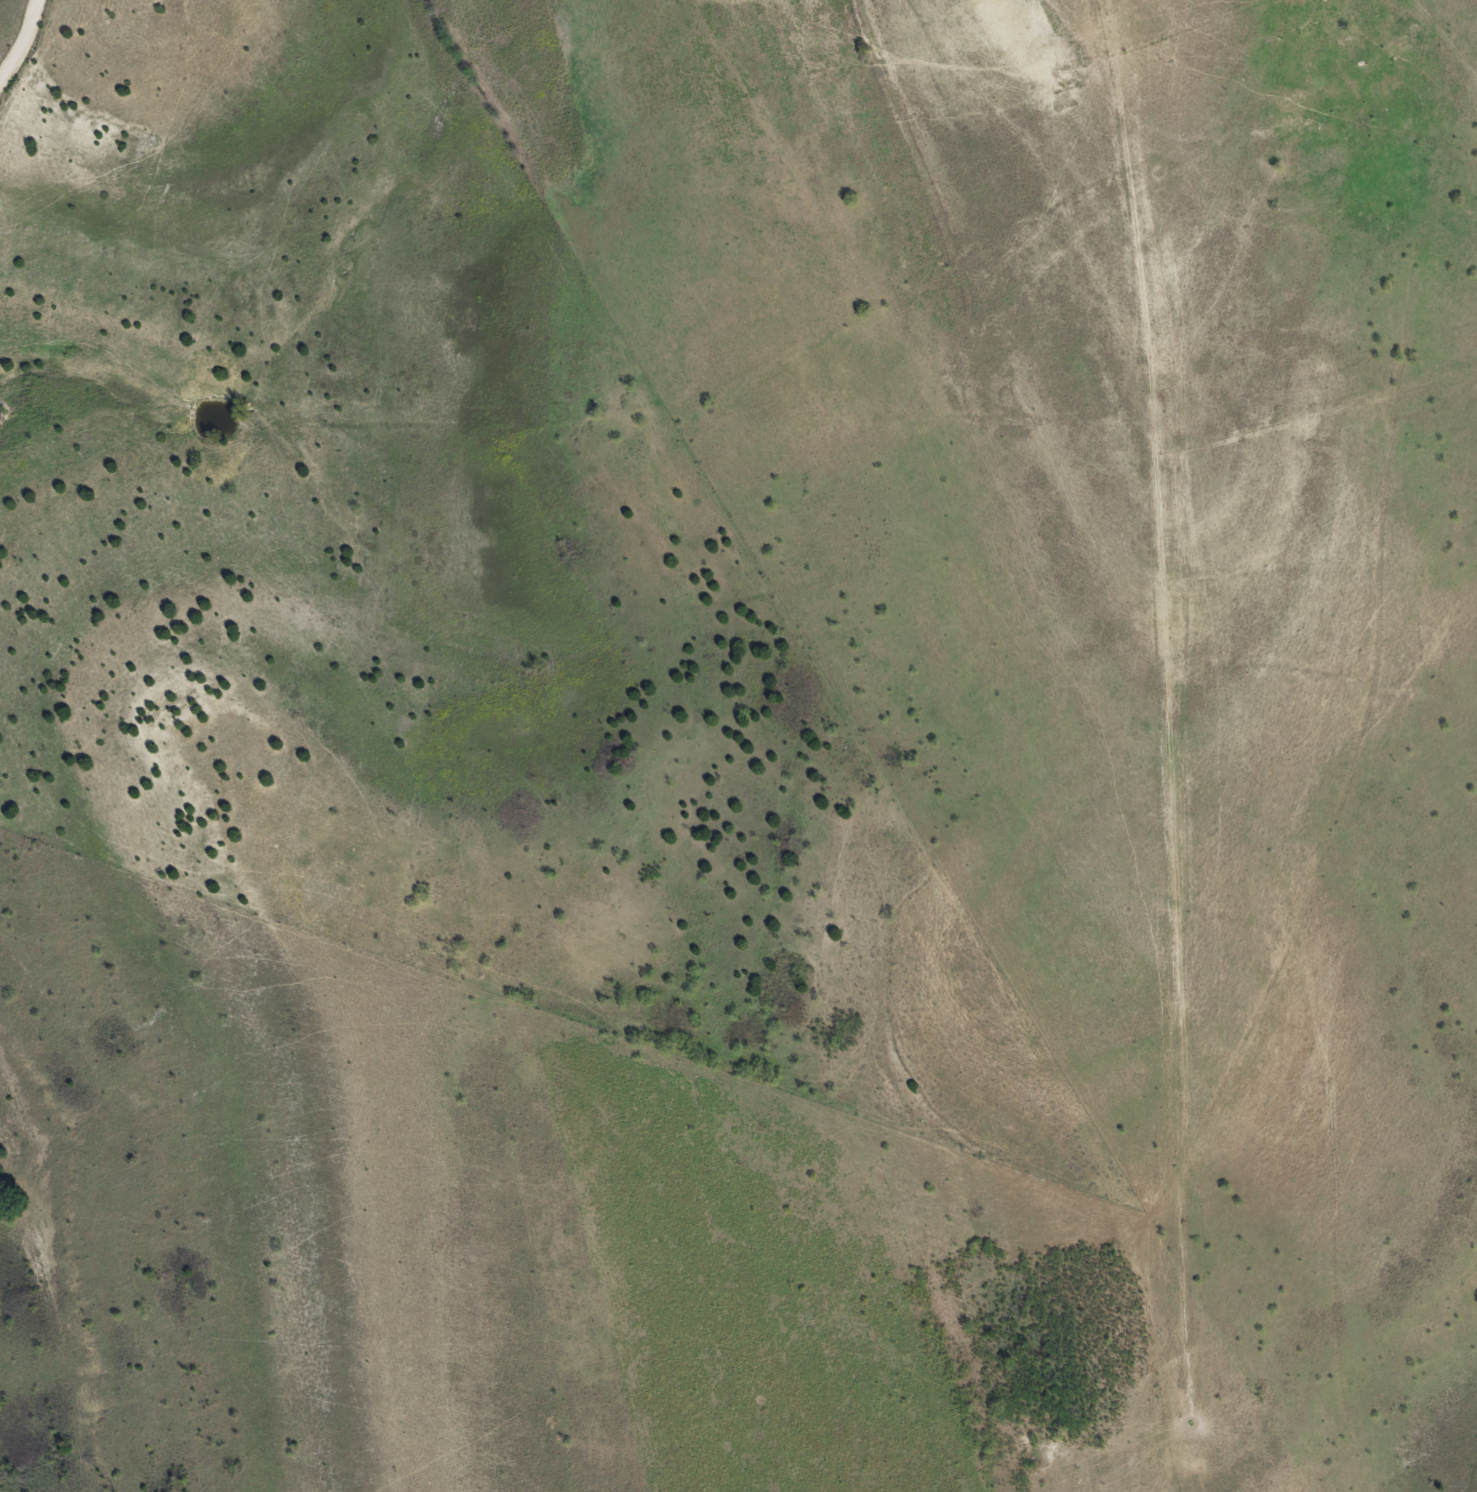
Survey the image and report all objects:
road: (20, 39)
building: (1, 416)

